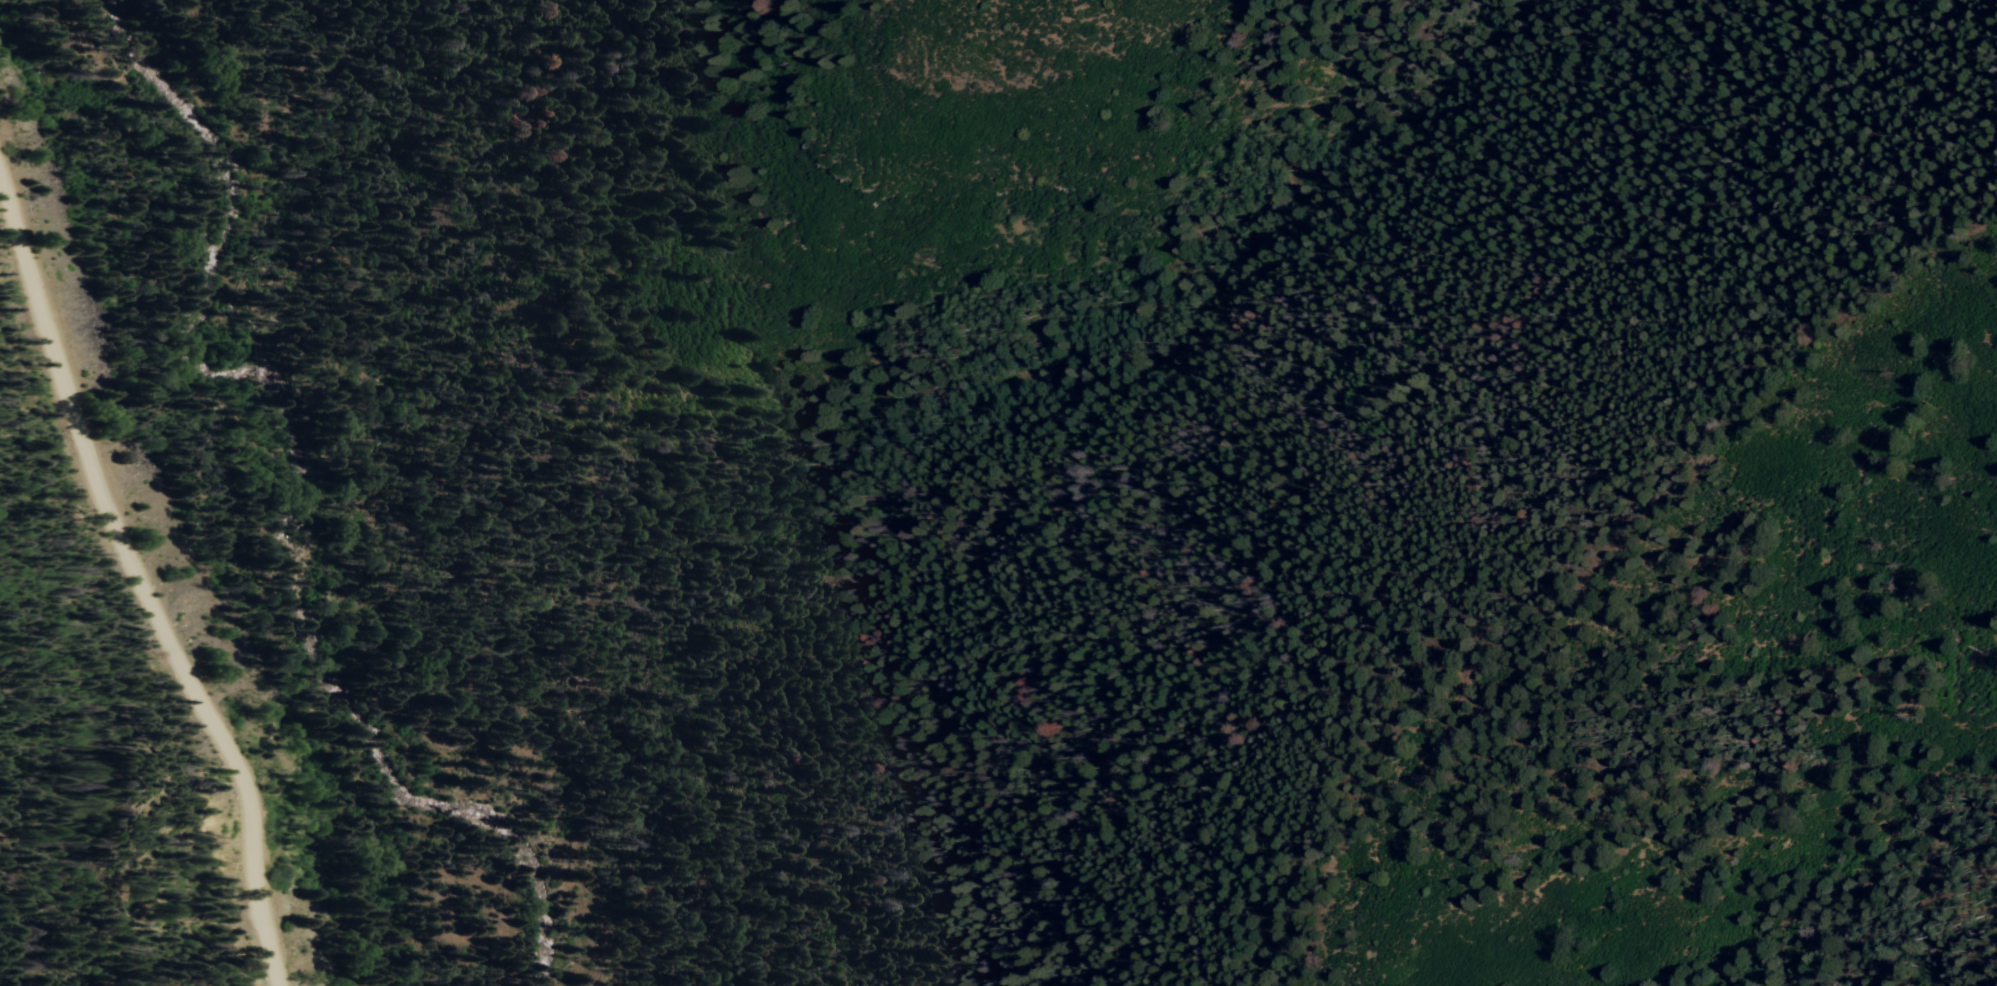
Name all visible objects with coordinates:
river: (270, 500)
road: (142, 584)

